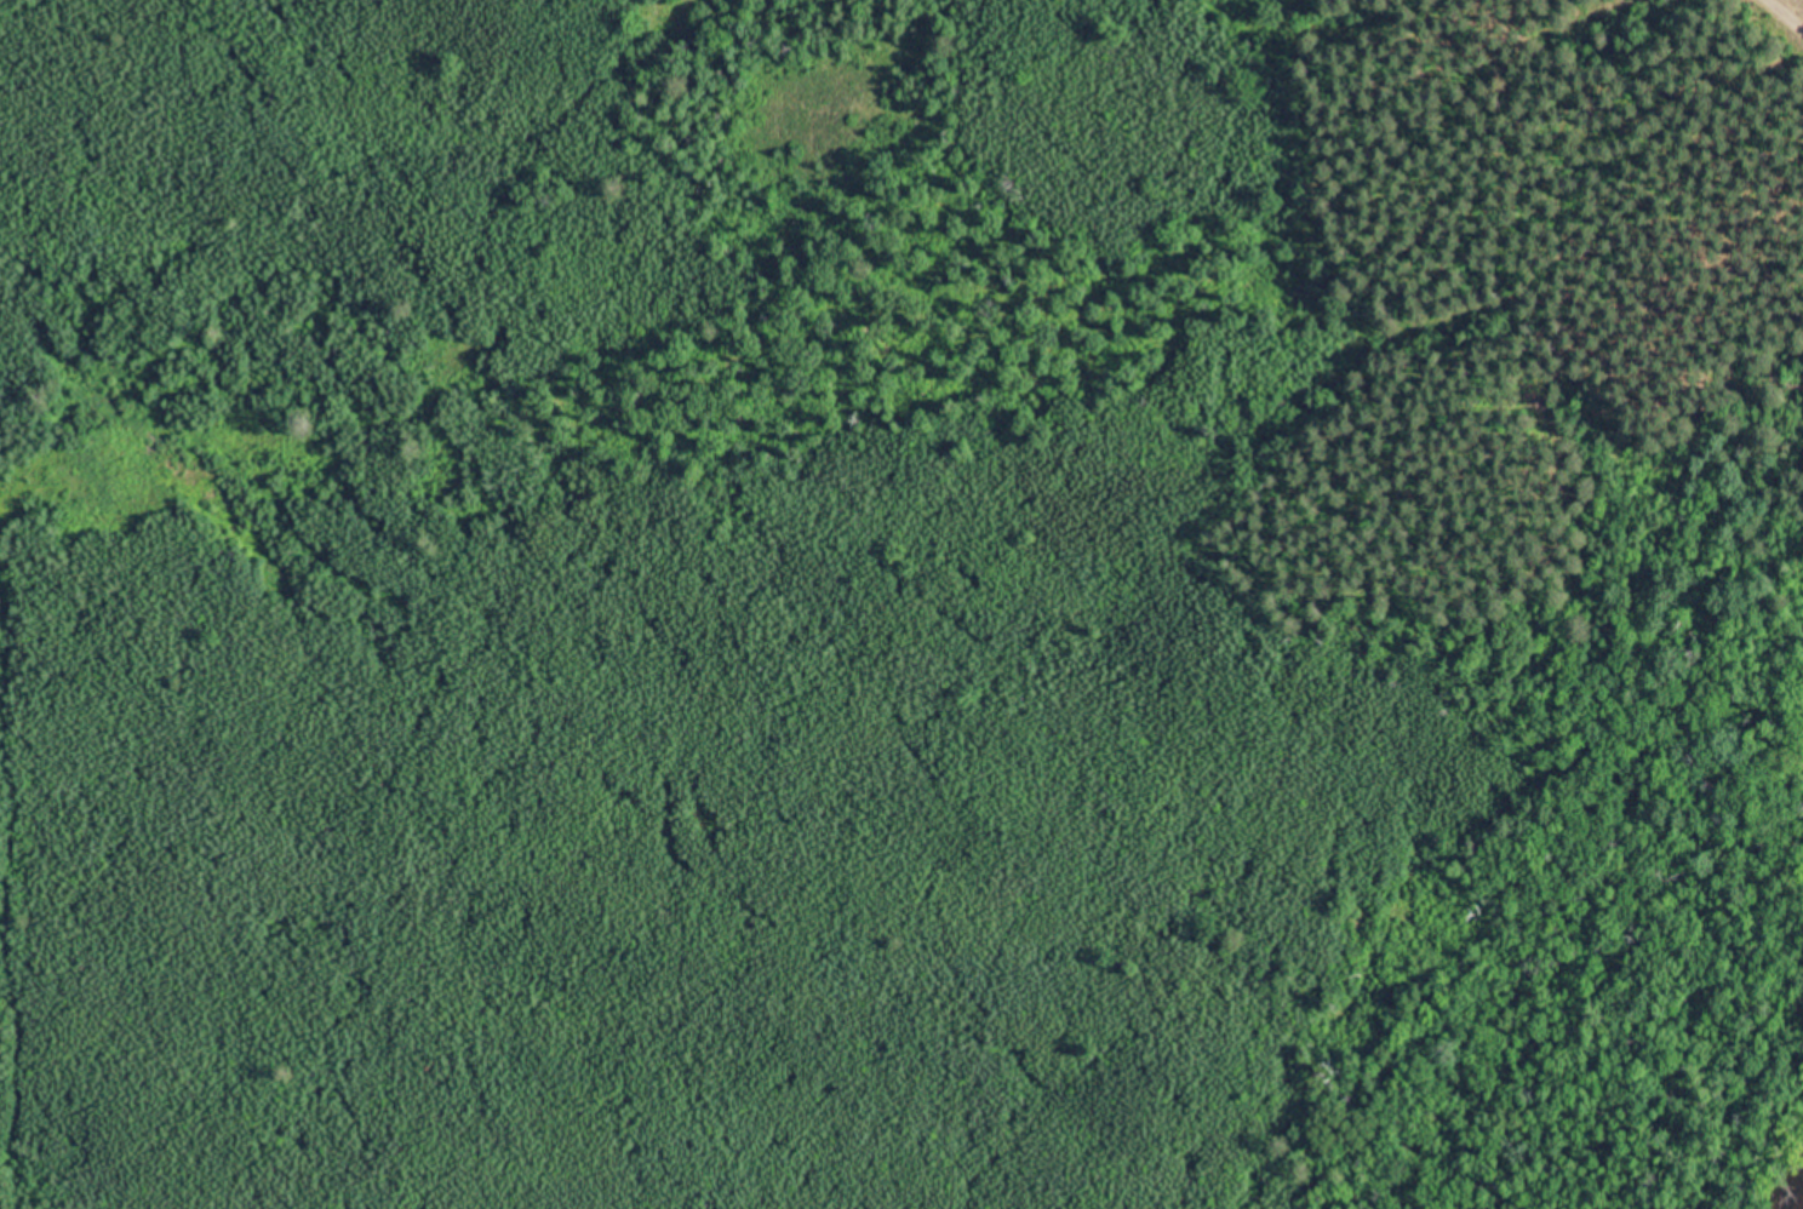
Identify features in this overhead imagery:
road: (1792, 5)
road: (10, 607)

